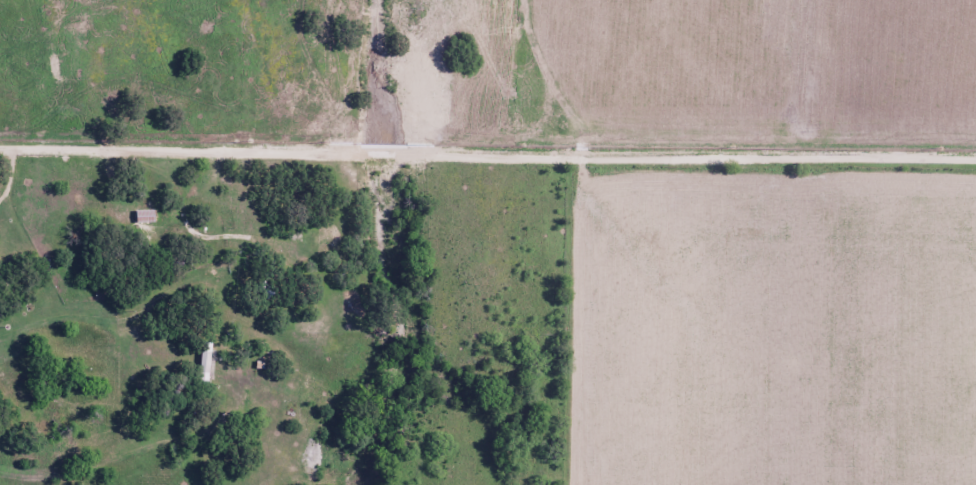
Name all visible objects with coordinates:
road: (487, 151)
building: (143, 215)
building: (203, 361)
building: (259, 443)

